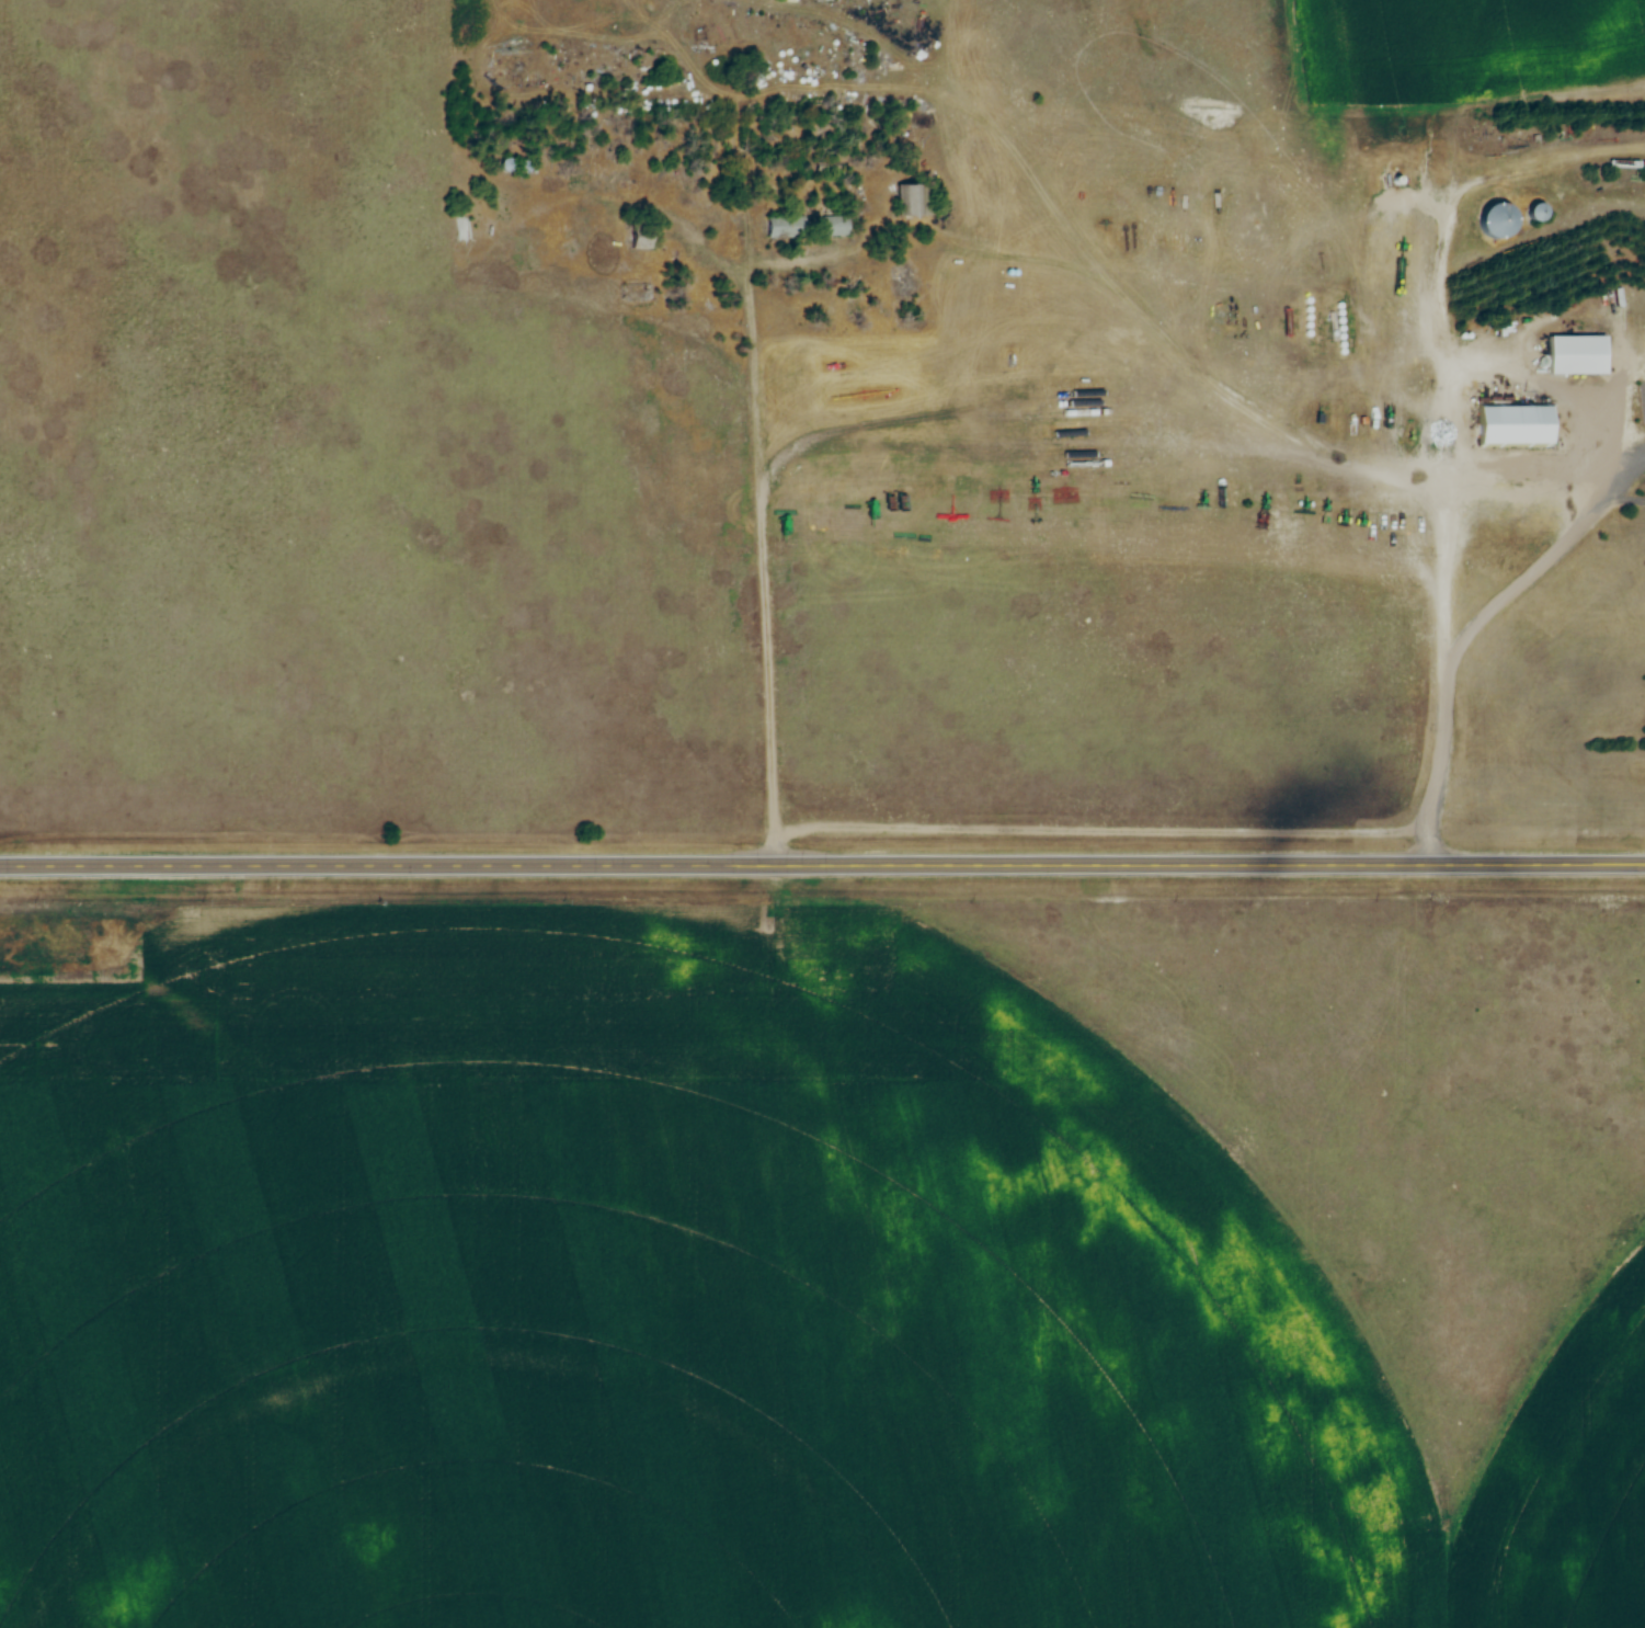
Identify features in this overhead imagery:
building: (912, 201)
building: (1535, 213)
building: (1496, 221)
building: (780, 226)
building: (835, 226)
building: (640, 240)
building: (1579, 354)
building: (1517, 424)
road: (764, 532)
road: (1473, 628)
road: (822, 864)

